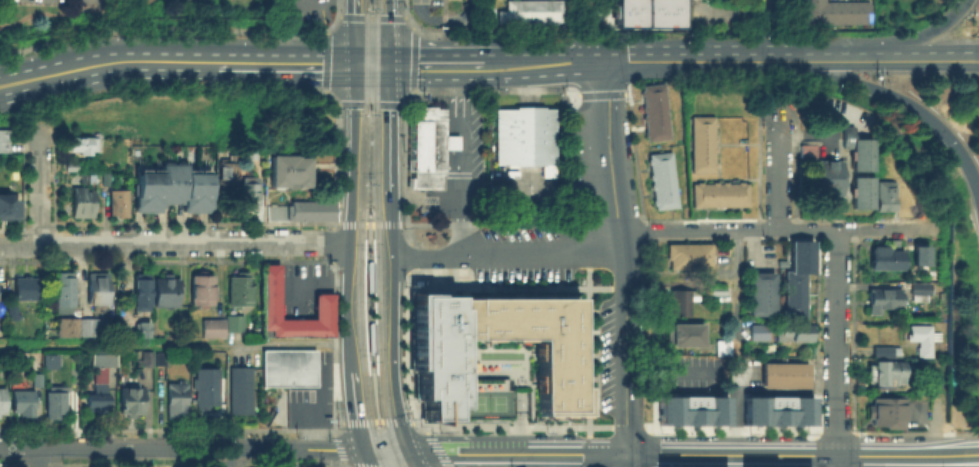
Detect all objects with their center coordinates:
road: (590, 4)
building: (837, 12)
building: (533, 13)
building: (645, 13)
road: (406, 15)
park: (97, 16)
road: (371, 16)
road: (335, 17)
road: (161, 30)
road: (282, 31)
road: (354, 32)
road: (389, 32)
road: (885, 44)
road: (413, 60)
road: (326, 61)
road: (881, 61)
road: (974, 61)
road: (693, 62)
road: (105, 63)
road: (283, 63)
traffic signals: (354, 64)
road: (371, 64)
road: (543, 64)
traffic signals: (389, 65)
road: (439, 66)
road: (416, 89)
road: (601, 92)
road: (905, 99)
road: (368, 102)
building: (657, 113)
road: (389, 130)
building: (527, 139)
building: (5, 141)
road: (354, 143)
building: (704, 145)
building: (84, 146)
building: (854, 148)
building: (431, 149)
building: (806, 149)
building: (253, 153)
road: (463, 162)
building: (74, 167)
road: (777, 169)
building: (288, 170)
building: (230, 171)
building: (826, 177)
building: (90, 179)
building: (107, 180)
building: (664, 181)
building: (170, 188)
road: (40, 191)
building: (858, 191)
building: (252, 194)
building: (720, 195)
building: (884, 197)
building: (83, 203)
building: (120, 203)
building: (9, 206)
road: (390, 209)
building: (300, 210)
road: (699, 218)
road: (256, 222)
road: (369, 222)
road: (663, 230)
railway: (361, 234)
railway: (376, 235)
railway: (366, 238)
road: (174, 245)
building: (687, 253)
building: (919, 254)
building: (881, 255)
road: (409, 258)
road: (626, 263)
building: (796, 277)
road: (407, 280)
road: (737, 284)
building: (712, 287)
building: (918, 288)
building: (27, 289)
building: (100, 289)
building: (143, 291)
building: (203, 291)
building: (240, 291)
building: (757, 291)
building: (167, 292)
building: (66, 294)
road: (347, 296)
building: (879, 297)
building: (678, 298)
building: (721, 306)
building: (325, 308)
building: (13, 314)
building: (27, 314)
road: (370, 321)
building: (235, 323)
building: (84, 328)
building: (141, 328)
building: (789, 328)
building: (214, 329)
building: (756, 329)
building: (681, 331)
building: (918, 335)
road: (394, 336)
road: (406, 342)
road: (174, 343)
building: (720, 345)
road: (336, 347)
road: (835, 347)
road: (937, 347)
building: (883, 348)
road: (587, 351)
building: (490, 355)
building: (162, 359)
building: (49, 360)
building: (148, 360)
building: (289, 368)
building: (883, 369)
road: (671, 370)
railway: (376, 372)
building: (781, 372)
building: (39, 381)
building: (101, 385)
building: (208, 387)
building: (242, 391)
building: (178, 400)
building: (3, 402)
building: (57, 402)
building: (133, 402)
park: (484, 402)
building: (24, 403)
road: (814, 408)
building: (882, 408)
road: (355, 409)
building: (692, 409)
building: (777, 409)
road: (736, 411)
road: (375, 421)
road: (631, 426)
road: (895, 431)
road: (950, 432)
road: (971, 432)
road: (436, 446)
road: (180, 447)
traffic signals: (362, 448)
road: (813, 448)
road: (385, 449)
traffic signals: (410, 449)
road: (853, 449)
road: (588, 451)
road: (517, 452)
road: (970, 452)
road: (794, 453)
road: (38, 457)
road: (228, 457)
road: (343, 457)
road: (364, 457)
road: (414, 458)
road: (555, 459)
road: (9, 464)
road: (130, 465)
road: (294, 465)
road: (539, 466)

